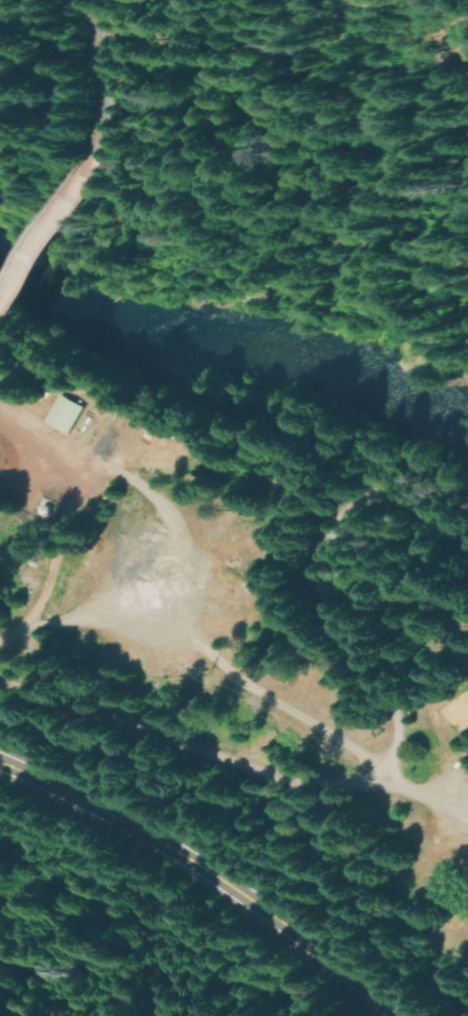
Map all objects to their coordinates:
road: (102, 84)
road: (42, 226)
river: (233, 346)
building: (56, 414)
road: (142, 492)
road: (313, 573)
road: (40, 601)
road: (205, 658)
power tower: (186, 662)
building: (467, 695)
road: (189, 750)
road: (429, 795)
road: (209, 868)

